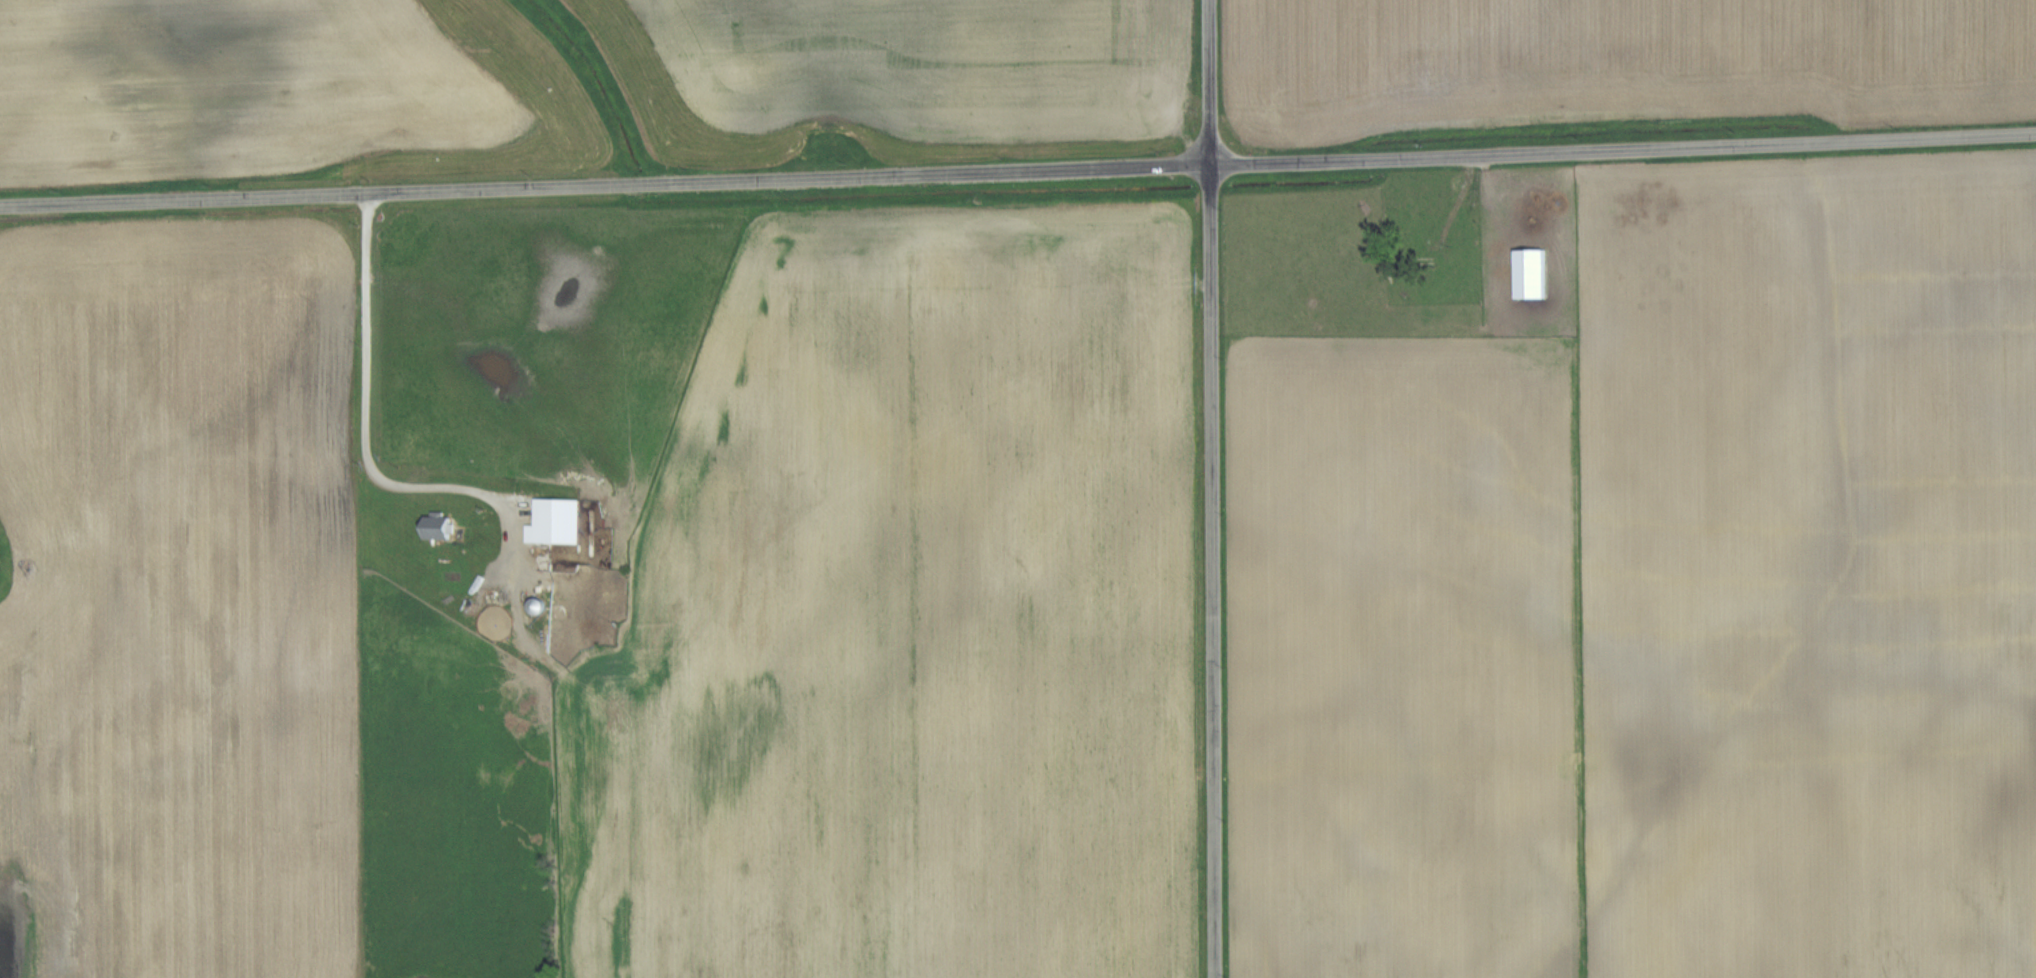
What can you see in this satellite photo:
road: (1018, 171)
road: (1212, 488)
building: (432, 526)

